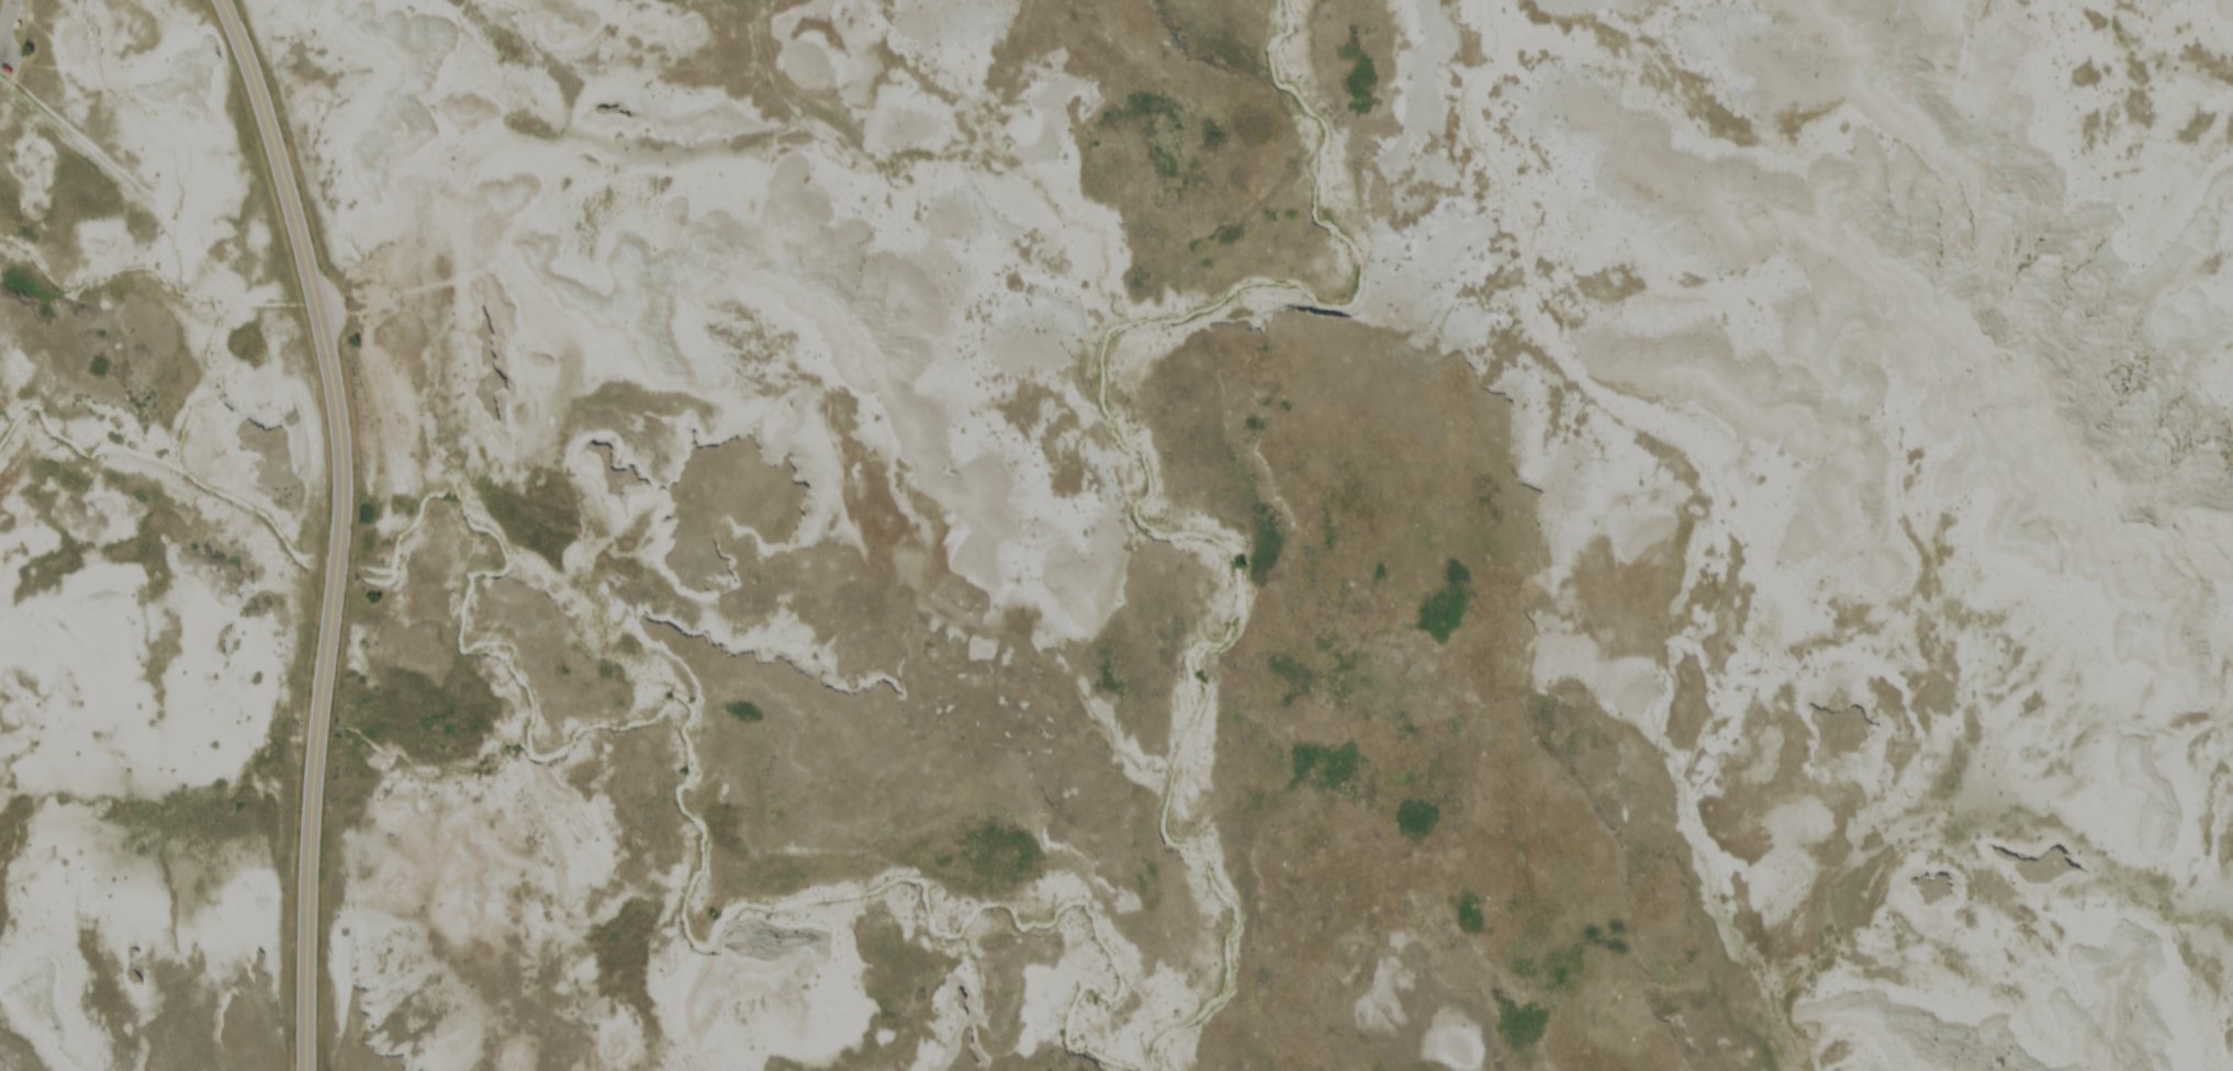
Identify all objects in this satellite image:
road: (8, 20)
road: (340, 527)

